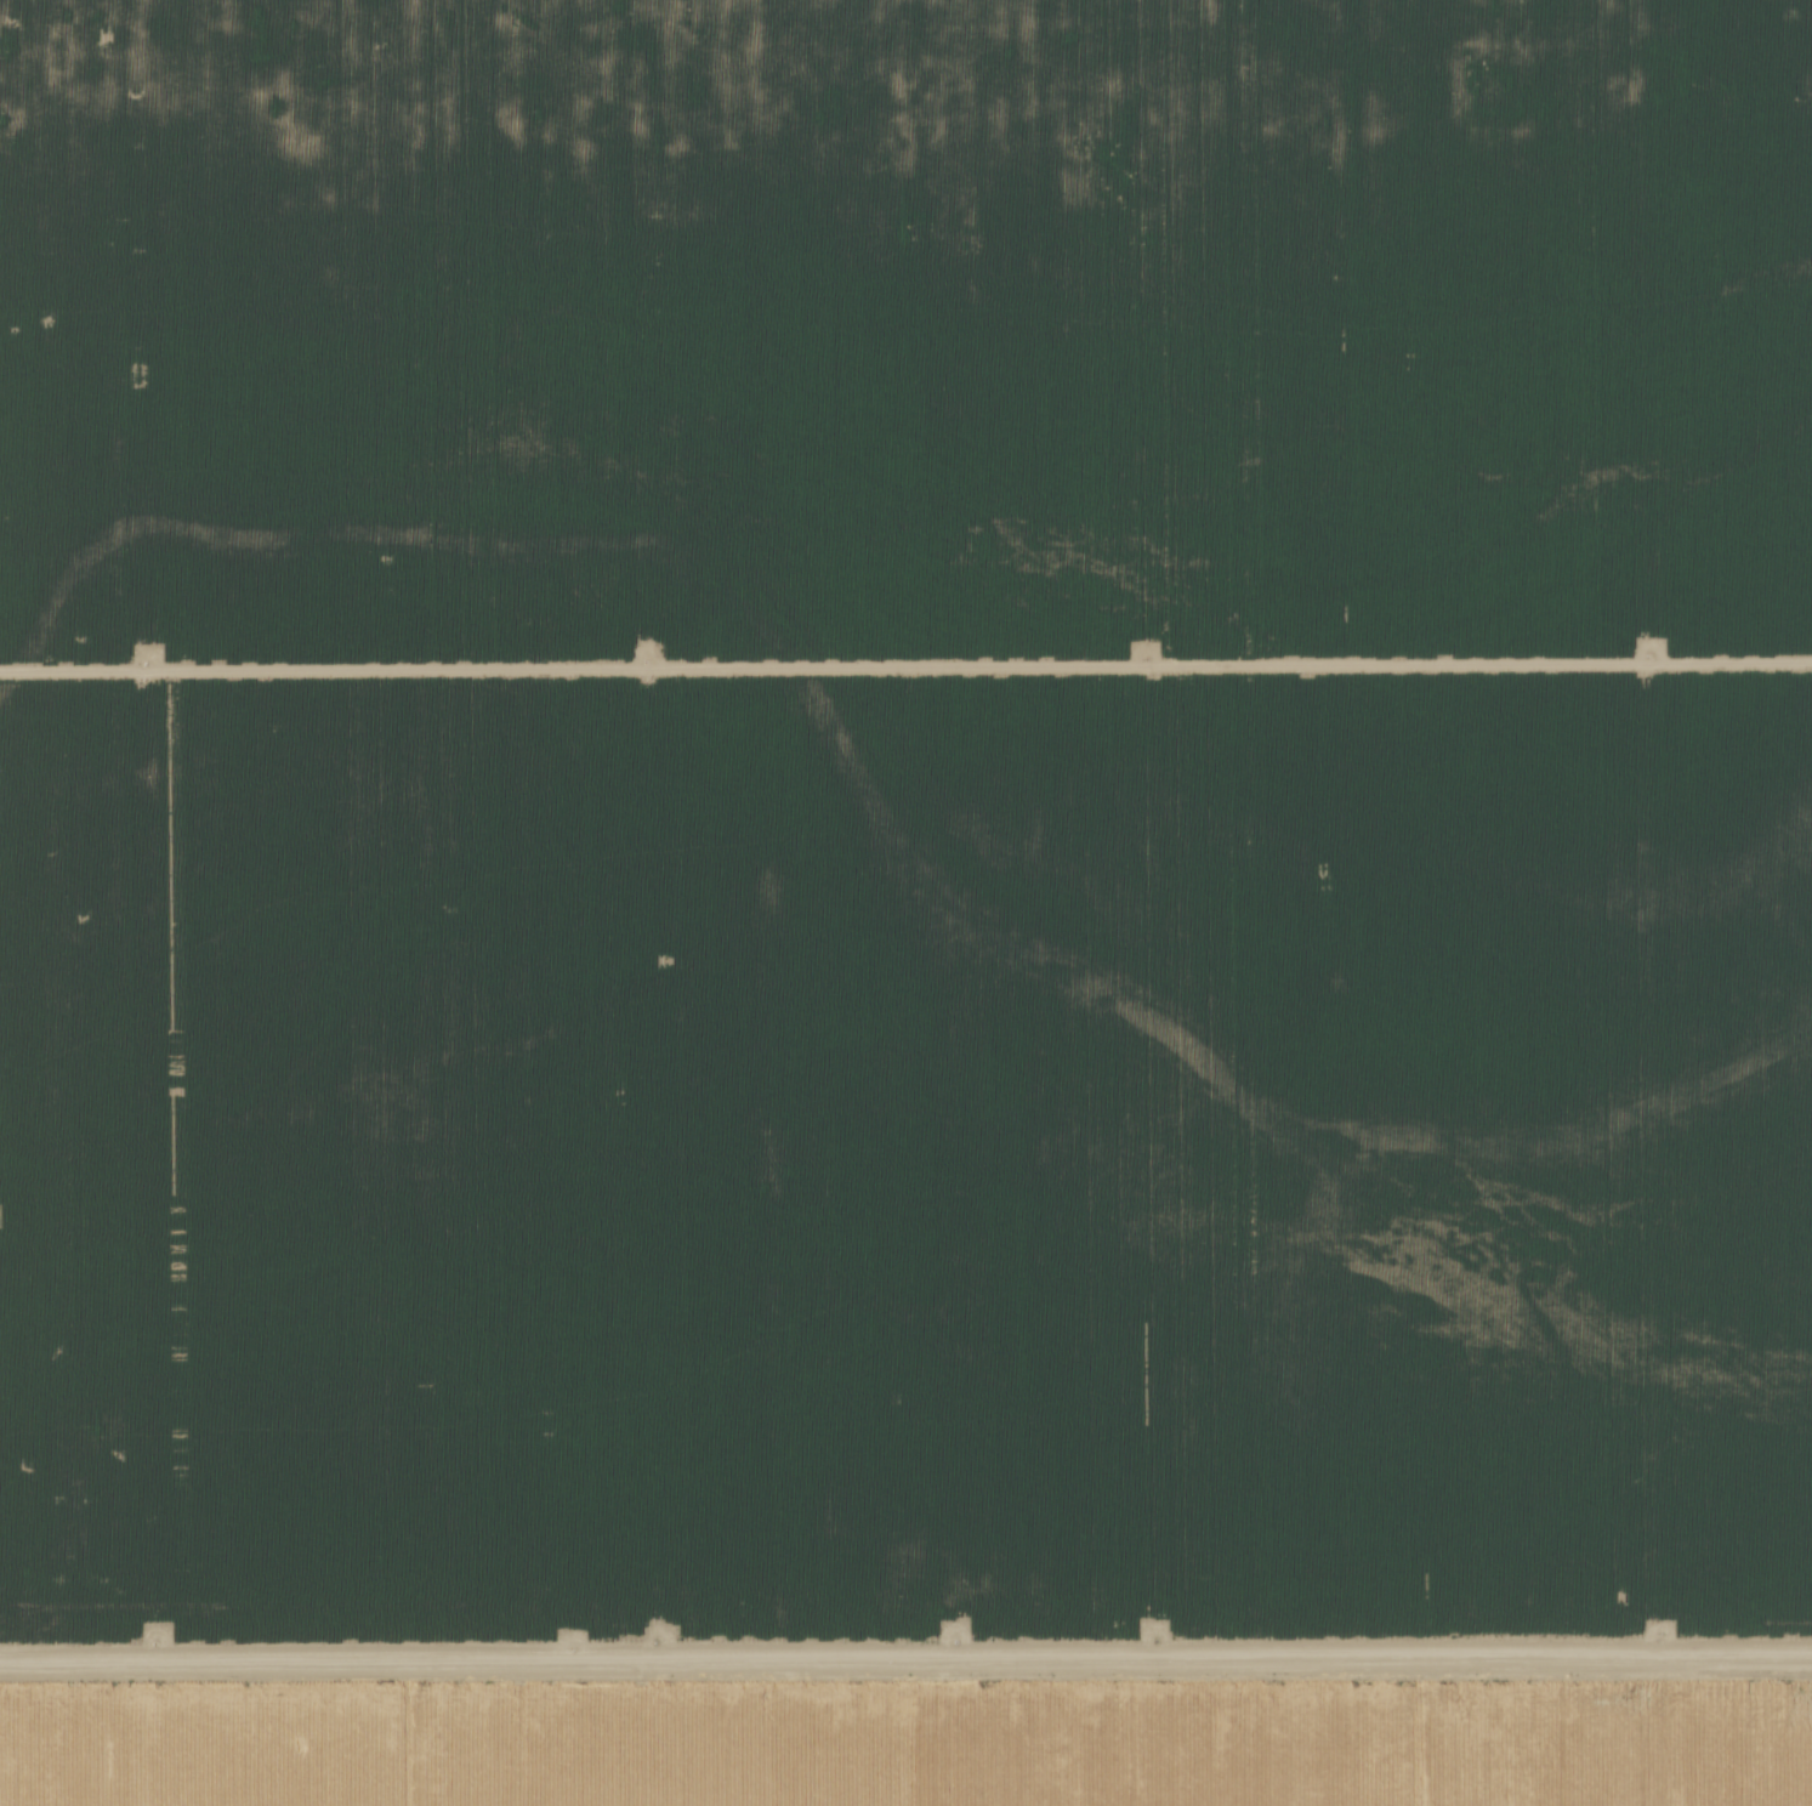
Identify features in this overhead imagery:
crop: (905, 903)

